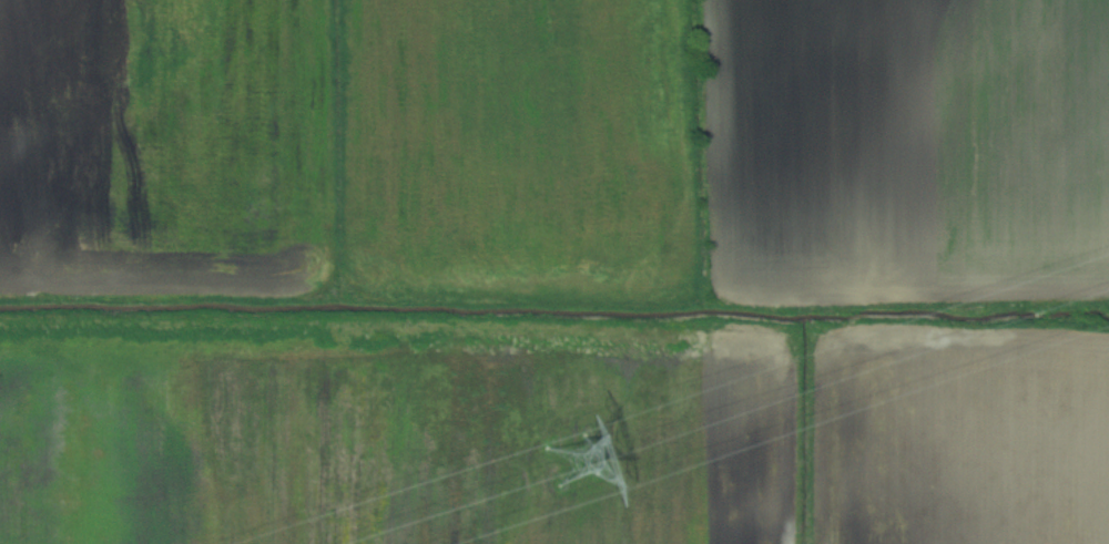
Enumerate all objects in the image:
power tower: (578, 469)

